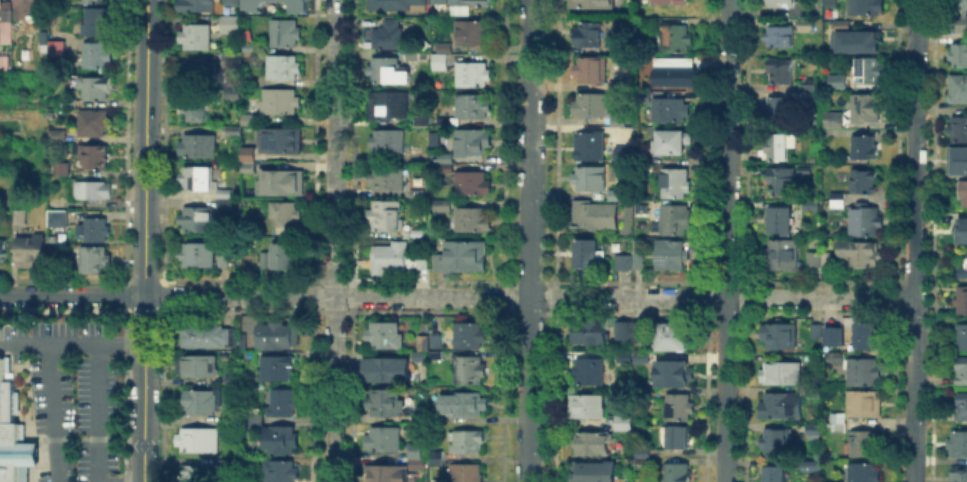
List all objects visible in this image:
building: (96, 1)
building: (231, 2)
building: (439, 2)
building: (670, 2)
building: (1, 3)
building: (781, 3)
building: (832, 3)
building: (956, 3)
building: (250, 4)
building: (296, 4)
building: (392, 5)
building: (592, 5)
road: (142, 6)
building: (467, 6)
road: (151, 7)
building: (867, 7)
building: (27, 8)
building: (199, 9)
building: (94, 20)
building: (232, 24)
building: (843, 25)
building: (961, 26)
building: (808, 28)
building: (471, 33)
building: (285, 34)
building: (6, 36)
building: (588, 36)
building: (779, 36)
building: (196, 37)
building: (388, 37)
building: (676, 38)
building: (44, 39)
building: (865, 42)
building: (53, 47)
building: (250, 47)
building: (416, 55)
building: (959, 55)
building: (98, 56)
building: (441, 57)
building: (659, 60)
building: (230, 61)
building: (5, 63)
building: (283, 68)
building: (591, 69)
building: (388, 72)
building: (781, 72)
building: (869, 72)
building: (200, 74)
building: (472, 74)
building: (677, 74)
building: (834, 80)
building: (808, 87)
building: (841, 87)
building: (95, 88)
building: (958, 90)
building: (233, 95)
building: (280, 102)
building: (68, 103)
building: (385, 106)
building: (471, 106)
building: (594, 106)
building: (868, 108)
building: (780, 109)
building: (193, 110)
building: (668, 110)
building: (54, 114)
building: (834, 120)
building: (248, 121)
building: (443, 121)
building: (421, 122)
building: (93, 123)
building: (617, 123)
building: (9, 125)
building: (960, 130)
building: (233, 132)
building: (57, 136)
building: (280, 141)
building: (473, 142)
building: (387, 144)
building: (672, 144)
building: (591, 145)
building: (198, 146)
building: (776, 146)
building: (865, 147)
building: (249, 151)
building: (624, 154)
building: (91, 156)
building: (444, 157)
building: (955, 164)
building: (245, 166)
building: (445, 167)
building: (60, 169)
building: (804, 169)
building: (198, 179)
building: (282, 179)
building: (388, 179)
building: (589, 180)
building: (782, 180)
building: (866, 183)
building: (676, 185)
building: (474, 186)
building: (93, 192)
building: (416, 192)
building: (616, 193)
building: (964, 194)
building: (225, 200)
building: (838, 202)
building: (808, 204)
building: (442, 208)
building: (284, 215)
building: (595, 215)
building: (385, 216)
building: (19, 218)
building: (58, 220)
building: (474, 220)
building: (196, 221)
building: (676, 221)
building: (867, 221)
building: (779, 222)
building: (963, 230)
building: (97, 232)
building: (417, 233)
road: (911, 240)
road: (335, 241)
road: (529, 241)
road: (727, 241)
road: (144, 247)
building: (2, 248)
building: (31, 253)
building: (638, 253)
building: (861, 254)
building: (197, 256)
building: (588, 256)
building: (782, 256)
building: (222, 257)
building: (463, 257)
building: (672, 257)
building: (280, 259)
building: (390, 260)
building: (820, 260)
building: (622, 261)
building: (95, 262)
building: (424, 264)
building: (964, 264)
road: (455, 297)
building: (962, 303)
building: (814, 328)
building: (623, 330)
building: (640, 331)
building: (469, 333)
building: (588, 334)
building: (208, 336)
building: (386, 336)
building: (275, 337)
building: (865, 337)
building: (779, 338)
building: (963, 338)
building: (674, 339)
road: (71, 343)
building: (422, 344)
building: (833, 356)
building: (420, 357)
building: (635, 358)
building: (834, 361)
building: (200, 367)
building: (279, 370)
building: (471, 370)
building: (962, 371)
building: (389, 372)
building: (588, 373)
building: (862, 373)
building: (782, 374)
building: (676, 376)
building: (234, 382)
building: (812, 390)
parking lot: (68, 395)
building: (200, 402)
building: (283, 403)
building: (386, 403)
building: (465, 404)
building: (865, 405)
building: (783, 407)
building: (587, 408)
building: (961, 408)
building: (681, 409)
road: (52, 412)
road: (94, 412)
building: (836, 415)
building: (428, 420)
building: (256, 422)
building: (624, 425)
building: (815, 429)
building: (838, 429)
building: (13, 434)
road: (86, 438)
building: (676, 439)
building: (385, 440)
building: (281, 441)
building: (200, 442)
building: (468, 444)
building: (959, 444)
building: (777, 445)
building: (865, 445)
building: (592, 446)
building: (416, 452)
building: (432, 456)
building: (437, 460)
building: (643, 460)
building: (811, 465)
building: (418, 466)
building: (281, 473)
building: (468, 473)
building: (594, 473)
building: (677, 473)
building: (199, 474)
building: (864, 474)
building: (959, 474)
building: (386, 475)
building: (776, 476)
road: (27, 478)
road: (132, 481)

